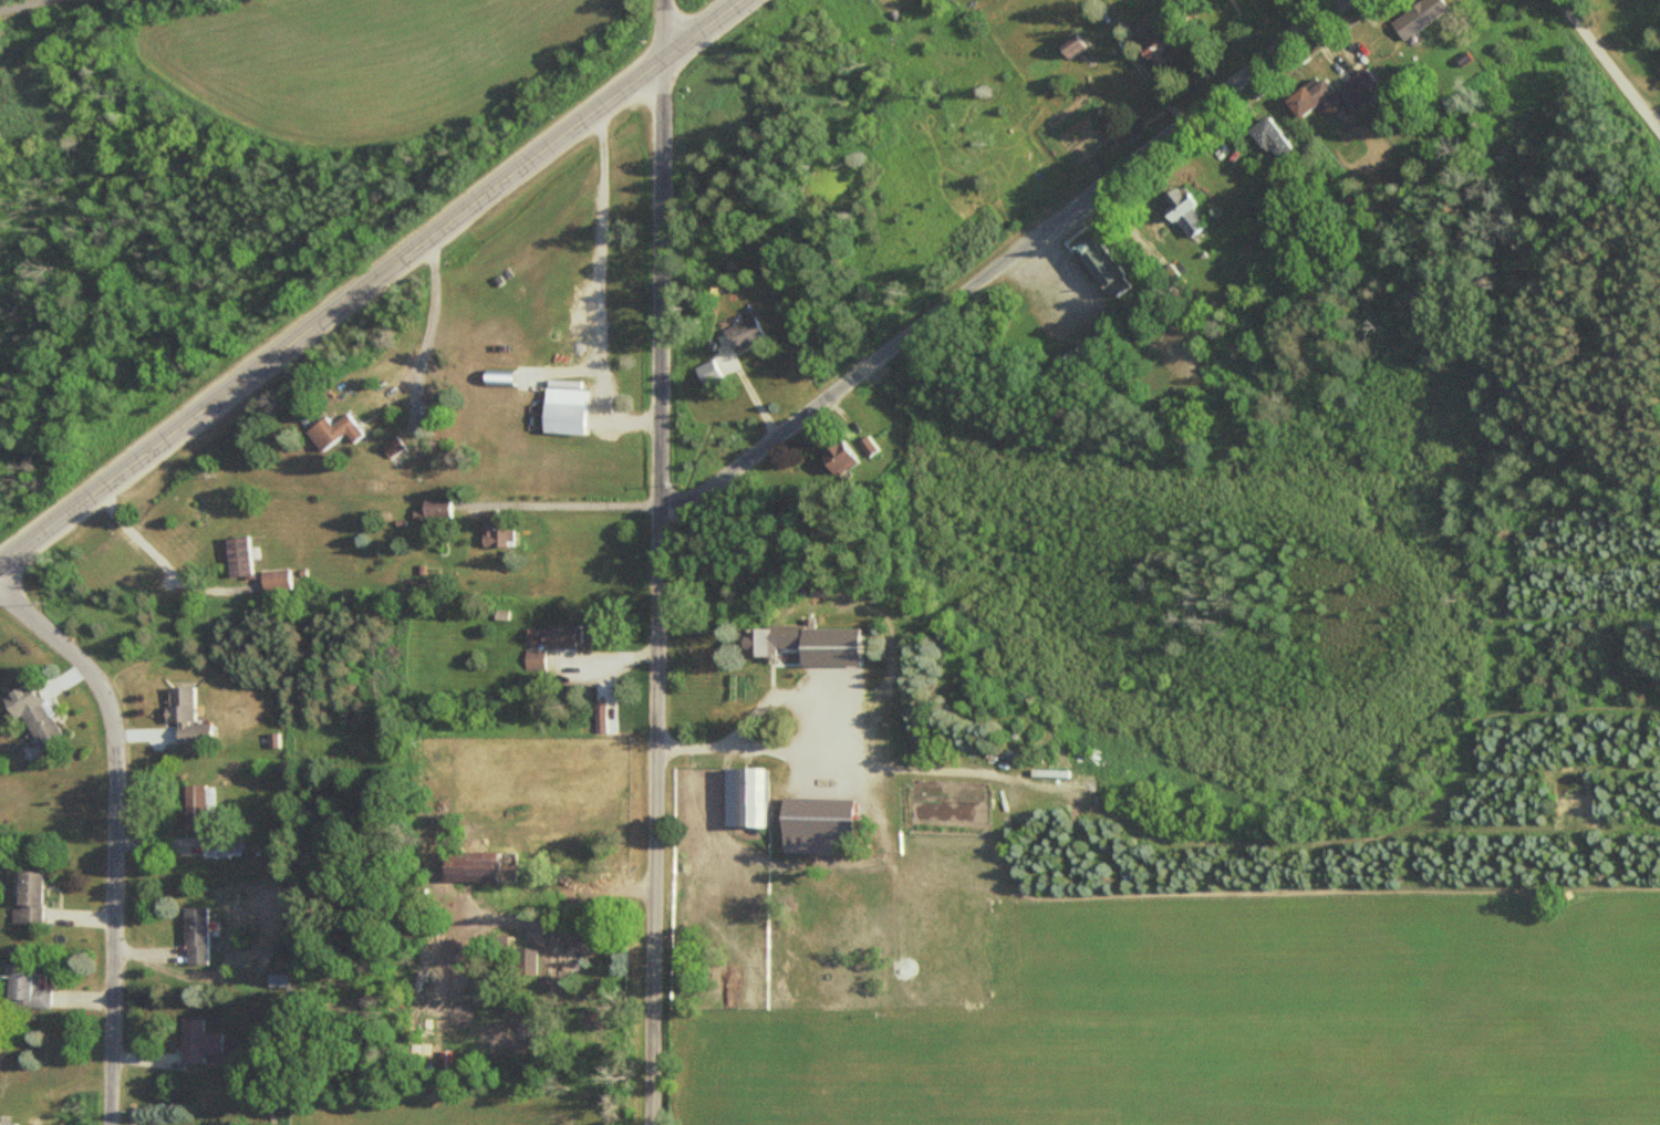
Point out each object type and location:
road: (23, 6)
building: (1419, 17)
road: (661, 32)
building: (1154, 44)
road: (1612, 62)
building: (1359, 87)
building: (1313, 96)
building: (1269, 139)
building: (1185, 211)
building: (1099, 259)
road: (994, 263)
building: (1170, 275)
road: (372, 281)
building: (743, 333)
building: (562, 407)
building: (344, 433)
building: (398, 450)
building: (834, 459)
building: (444, 508)
building: (504, 534)
building: (245, 556)
building: (280, 581)
road: (655, 594)
building: (554, 636)
building: (750, 643)
building: (532, 659)
building: (184, 715)
building: (49, 725)
building: (741, 799)
building: (199, 806)
road: (113, 834)
building: (222, 845)
building: (475, 864)
building: (501, 866)
building: (27, 895)
building: (196, 934)
building: (552, 957)
building: (21, 987)
building: (196, 1040)
building: (7, 1124)

